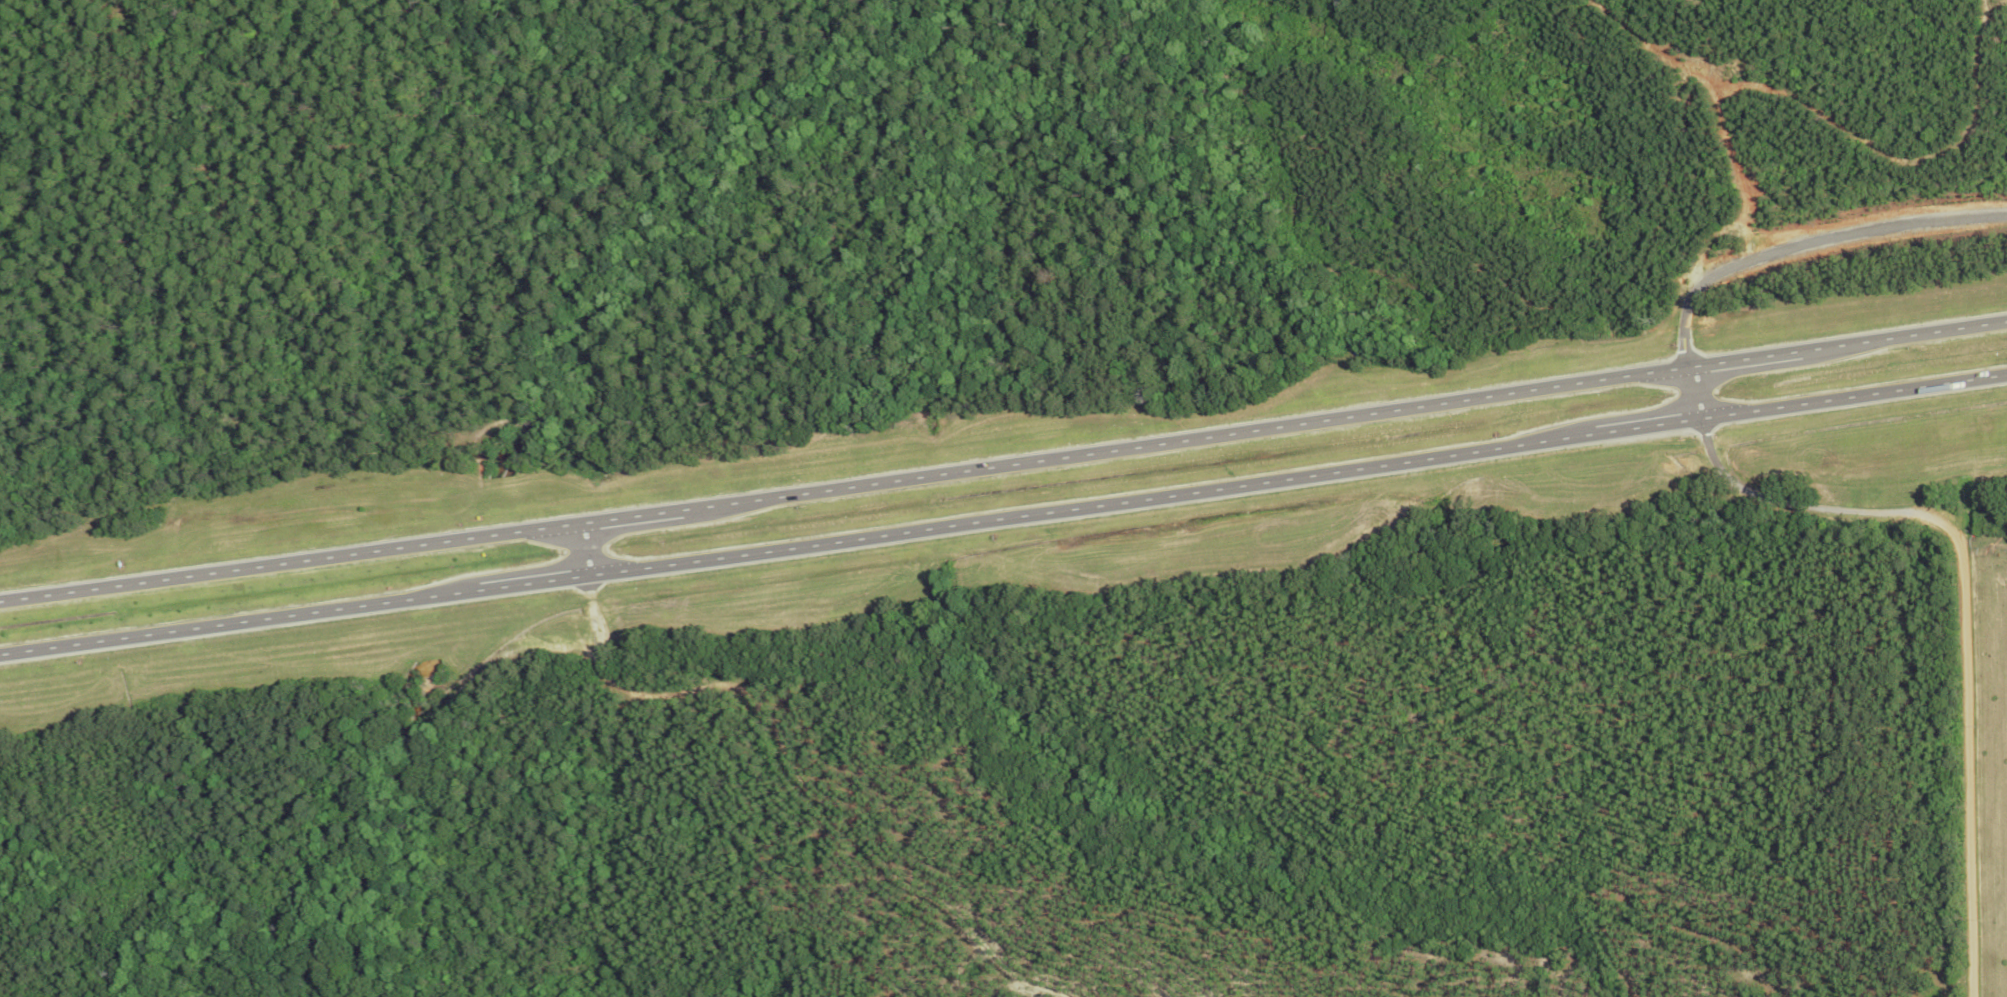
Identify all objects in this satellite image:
road: (1830, 232)
road: (1691, 369)
road: (1003, 462)
road: (1003, 516)
road: (588, 548)
road: (1963, 610)

